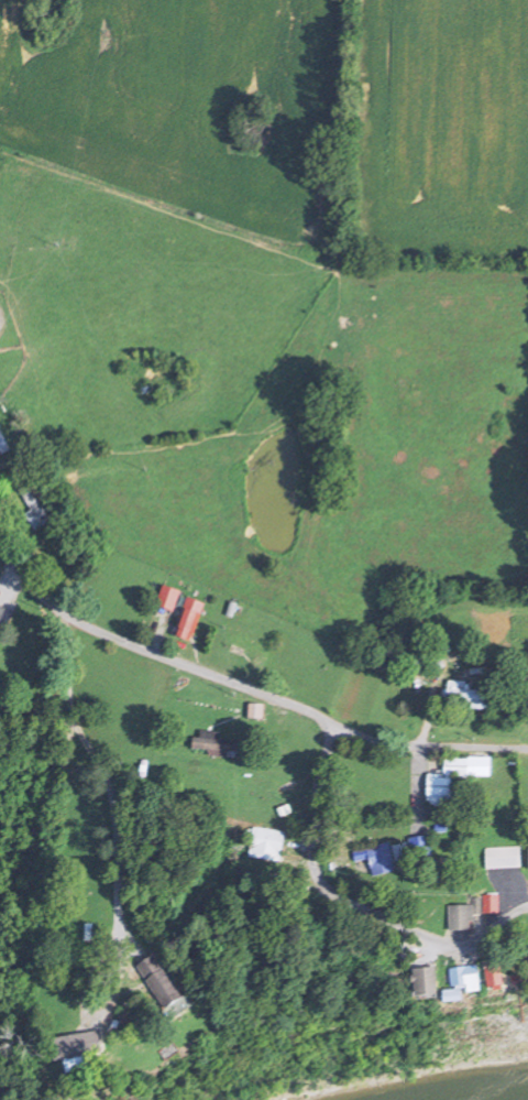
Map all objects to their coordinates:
building: (3, 447)
road: (3, 458)
building: (34, 508)
road: (5, 570)
building: (168, 600)
building: (1, 614)
building: (190, 621)
road: (155, 633)
road: (151, 652)
road: (77, 671)
road: (249, 674)
building: (468, 700)
road: (276, 710)
building: (256, 714)
road: (424, 727)
building: (215, 745)
road: (428, 747)
road: (418, 772)
building: (440, 791)
road: (111, 795)
road: (41, 806)
road: (300, 837)
building: (266, 845)
road: (348, 845)
building: (504, 859)
building: (382, 861)
road: (353, 902)
building: (492, 905)
building: (462, 921)
road: (122, 924)
road: (464, 935)
road: (428, 945)
road: (480, 948)
road: (462, 950)
building: (497, 981)
road: (114, 982)
building: (428, 985)
building: (162, 987)
building: (465, 987)
building: (79, 1053)

